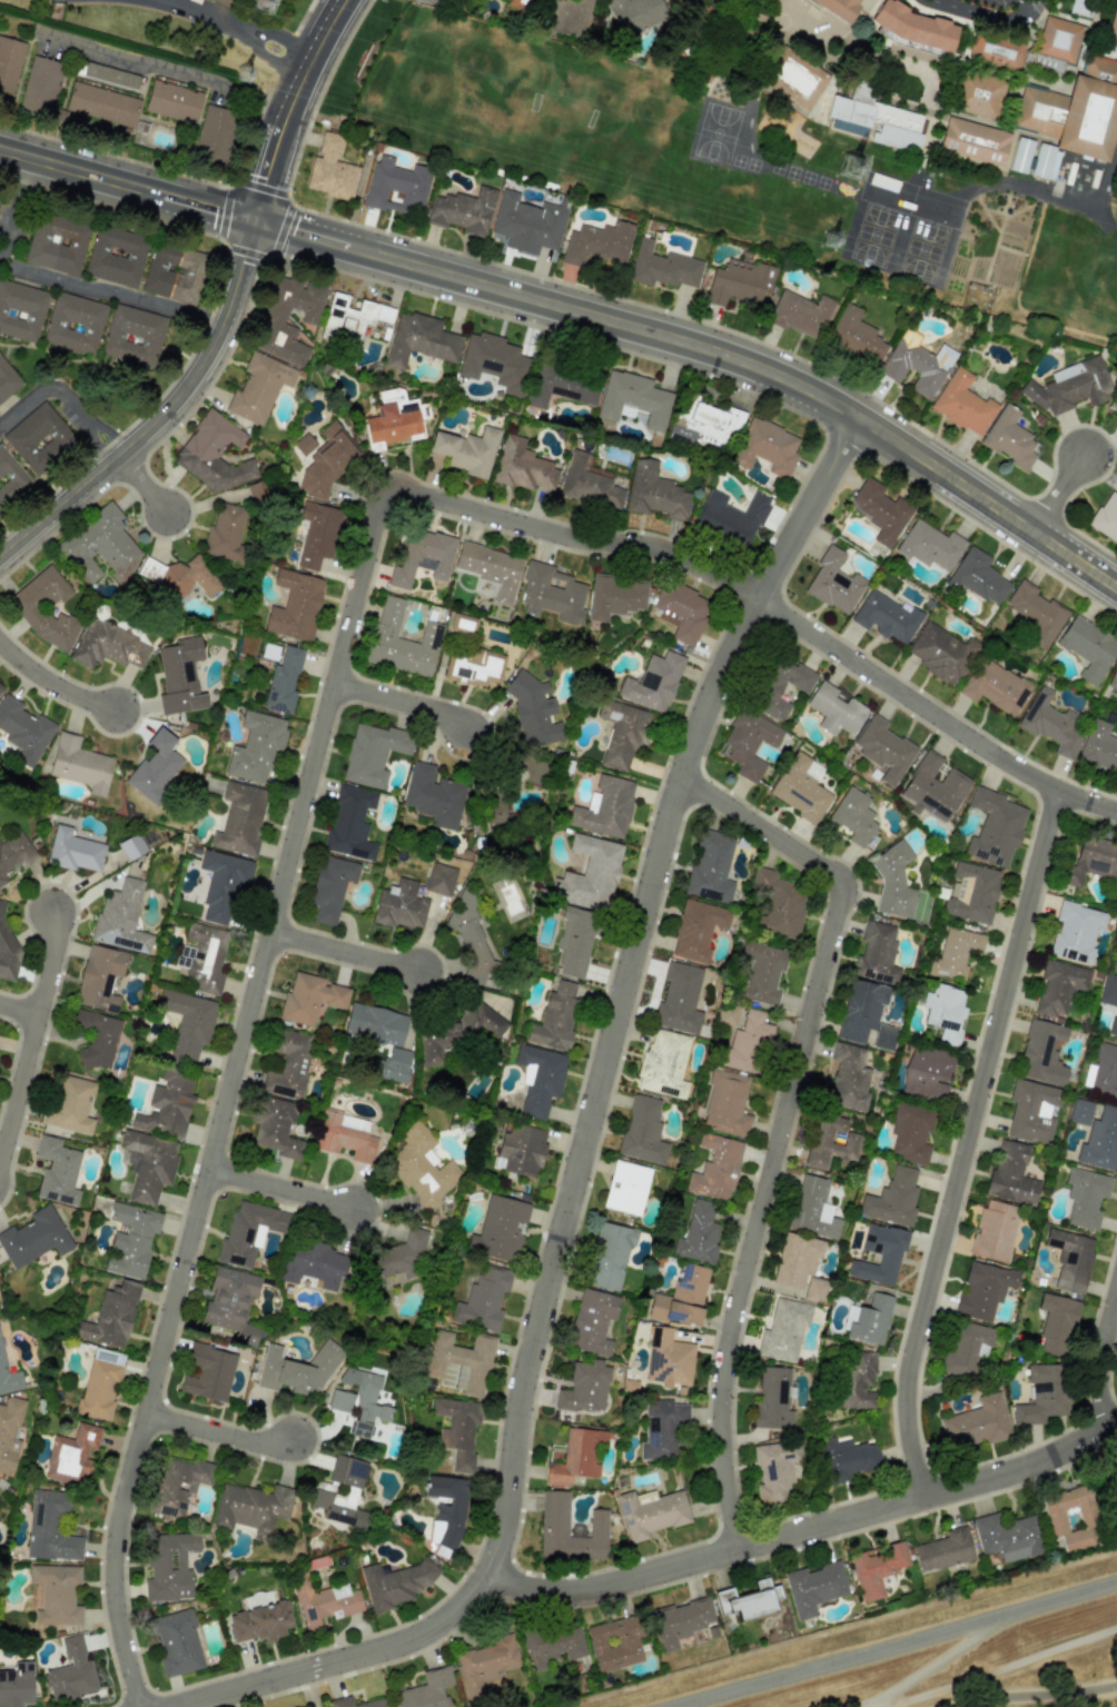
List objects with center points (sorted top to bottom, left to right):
building: (731, 0)
road: (1027, 1)
road: (1034, 1)
power tower: (265, 3)
building: (435, 3)
building: (517, 4)
road: (194, 7)
road: (219, 8)
building: (836, 8)
building: (1080, 8)
building: (634, 14)
building: (569, 17)
road: (987, 17)
building: (800, 19)
road: (234, 27)
building: (912, 32)
building: (1114, 34)
road: (289, 38)
building: (1058, 39)
building: (996, 50)
building: (9, 62)
road: (276, 67)
road: (167, 76)
power tower: (241, 77)
building: (794, 78)
building: (40, 86)
building: (978, 93)
building: (172, 101)
building: (101, 105)
road: (288, 107)
building: (878, 117)
building: (1089, 118)
building: (214, 135)
building: (973, 141)
power tower: (847, 149)
building: (1034, 159)
building: (330, 170)
road: (127, 185)
building: (397, 186)
road: (1069, 201)
road: (12, 202)
building: (463, 211)
building: (527, 224)
power tower: (830, 232)
building: (57, 244)
building: (597, 244)
building: (116, 256)
building: (662, 267)
building: (174, 274)
building: (739, 281)
road: (122, 297)
building: (21, 310)
building: (800, 314)
building: (275, 316)
building: (352, 318)
building: (75, 324)
building: (134, 336)
building: (856, 336)
building: (419, 340)
road: (709, 349)
building: (493, 361)
building: (915, 365)
building: (7, 380)
building: (561, 386)
building: (1069, 386)
building: (259, 387)
road: (65, 397)
building: (633, 399)
building: (962, 404)
road: (162, 411)
building: (392, 424)
building: (708, 425)
building: (38, 438)
building: (1009, 439)
building: (304, 444)
building: (765, 447)
building: (466, 450)
building: (212, 454)
building: (326, 463)
building: (522, 466)
building: (10, 478)
road: (144, 483)
building: (589, 483)
building: (256, 492)
building: (654, 492)
road: (1064, 495)
building: (879, 510)
building: (733, 514)
building: (1106, 517)
building: (225, 533)
building: (317, 534)
building: (100, 546)
building: (930, 546)
building: (422, 557)
building: (491, 568)
building: (180, 576)
building: (979, 577)
building: (833, 583)
building: (552, 594)
building: (615, 596)
building: (295, 606)
building: (45, 608)
building: (681, 611)
building: (1036, 613)
building: (886, 616)
building: (462, 624)
building: (401, 641)
building: (108, 646)
building: (1088, 647)
building: (941, 653)
building: (473, 666)
building: (180, 676)
building: (1113, 679)
building: (283, 681)
building: (652, 683)
road: (53, 684)
building: (779, 686)
building: (995, 687)
building: (0, 688)
road: (329, 699)
road: (403, 705)
building: (533, 709)
building: (834, 709)
building: (1052, 723)
building: (23, 731)
building: (622, 733)
building: (748, 743)
building: (1099, 747)
building: (255, 748)
building: (883, 750)
building: (372, 753)
building: (79, 764)
building: (155, 766)
building: (531, 768)
building: (933, 786)
building: (799, 790)
building: (433, 795)
building: (493, 806)
building: (604, 807)
building: (853, 816)
building: (239, 818)
building: (350, 824)
building: (995, 828)
building: (131, 846)
building: (73, 851)
building: (13, 855)
building: (1093, 860)
building: (711, 867)
building: (590, 873)
building: (439, 880)
building: (893, 881)
building: (221, 886)
building: (329, 887)
building: (970, 892)
building: (779, 904)
building: (399, 905)
building: (121, 916)
building: (696, 930)
building: (1075, 932)
building: (574, 941)
building: (473, 949)
building: (7, 951)
road: (344, 952)
building: (955, 952)
building: (877, 954)
building: (204, 957)
building: (1114, 963)
building: (762, 972)
building: (99, 976)
building: (1058, 986)
building: (1108, 991)
building: (309, 998)
building: (679, 999)
road: (19, 1009)
building: (860, 1010)
building: (945, 1012)
building: (555, 1018)
building: (187, 1023)
building: (374, 1024)
building: (1113, 1028)
building: (458, 1032)
building: (884, 1036)
road: (31, 1038)
building: (97, 1038)
building: (747, 1043)
building: (1041, 1053)
building: (288, 1064)
building: (663, 1064)
building: (393, 1065)
building: (927, 1072)
building: (1101, 1073)
building: (848, 1078)
building: (538, 1079)
building: (725, 1103)
building: (70, 1104)
building: (167, 1105)
building: (1031, 1110)
building: (1079, 1111)
road: (784, 1119)
building: (274, 1128)
building: (642, 1131)
building: (910, 1133)
building: (346, 1134)
building: (831, 1140)
road: (584, 1143)
road: (970, 1144)
building: (521, 1150)
building: (149, 1165)
building: (421, 1168)
building: (715, 1168)
building: (57, 1171)
building: (1010, 1174)
building: (626, 1188)
road: (281, 1190)
building: (1085, 1197)
building: (892, 1199)
building: (812, 1209)
building: (500, 1229)
building: (994, 1231)
building: (248, 1232)
building: (698, 1234)
building: (34, 1238)
building: (130, 1240)
building: (879, 1254)
building: (609, 1257)
building: (396, 1259)
building: (795, 1260)
building: (1070, 1260)
building: (313, 1263)
building: (814, 1290)
building: (983, 1290)
building: (485, 1298)
building: (681, 1298)
building: (111, 1317)
building: (870, 1320)
building: (592, 1322)
building: (1056, 1324)
building: (783, 1331)
building: (966, 1349)
road: (1100, 1354)
building: (668, 1359)
building: (459, 1363)
building: (297, 1368)
building: (207, 1372)
building: (9, 1377)
building: (856, 1380)
building: (100, 1385)
building: (585, 1388)
building: (1041, 1395)
building: (772, 1398)
building: (358, 1401)
building: (976, 1423)
building: (662, 1429)
building: (457, 1430)
building: (9, 1432)
road: (217, 1432)
building: (71, 1455)
building: (847, 1459)
building: (774, 1470)
building: (178, 1486)
building: (340, 1492)
building: (250, 1507)
building: (445, 1509)
building: (650, 1512)
building: (1072, 1518)
building: (554, 1522)
building: (50, 1528)
road: (802, 1534)
building: (1007, 1536)
building: (943, 1550)
building: (169, 1567)
building: (877, 1569)
building: (394, 1584)
building: (814, 1587)
building: (56, 1595)
building: (322, 1600)
building: (749, 1600)
building: (260, 1621)
building: (680, 1621)
building: (176, 1643)
building: (615, 1643)
road: (898, 1645)
building: (553, 1646)
building: (485, 1664)
building: (70, 1673)
building: (17, 1685)
building: (427, 1690)
road: (1037, 1696)
building: (375, 1703)

